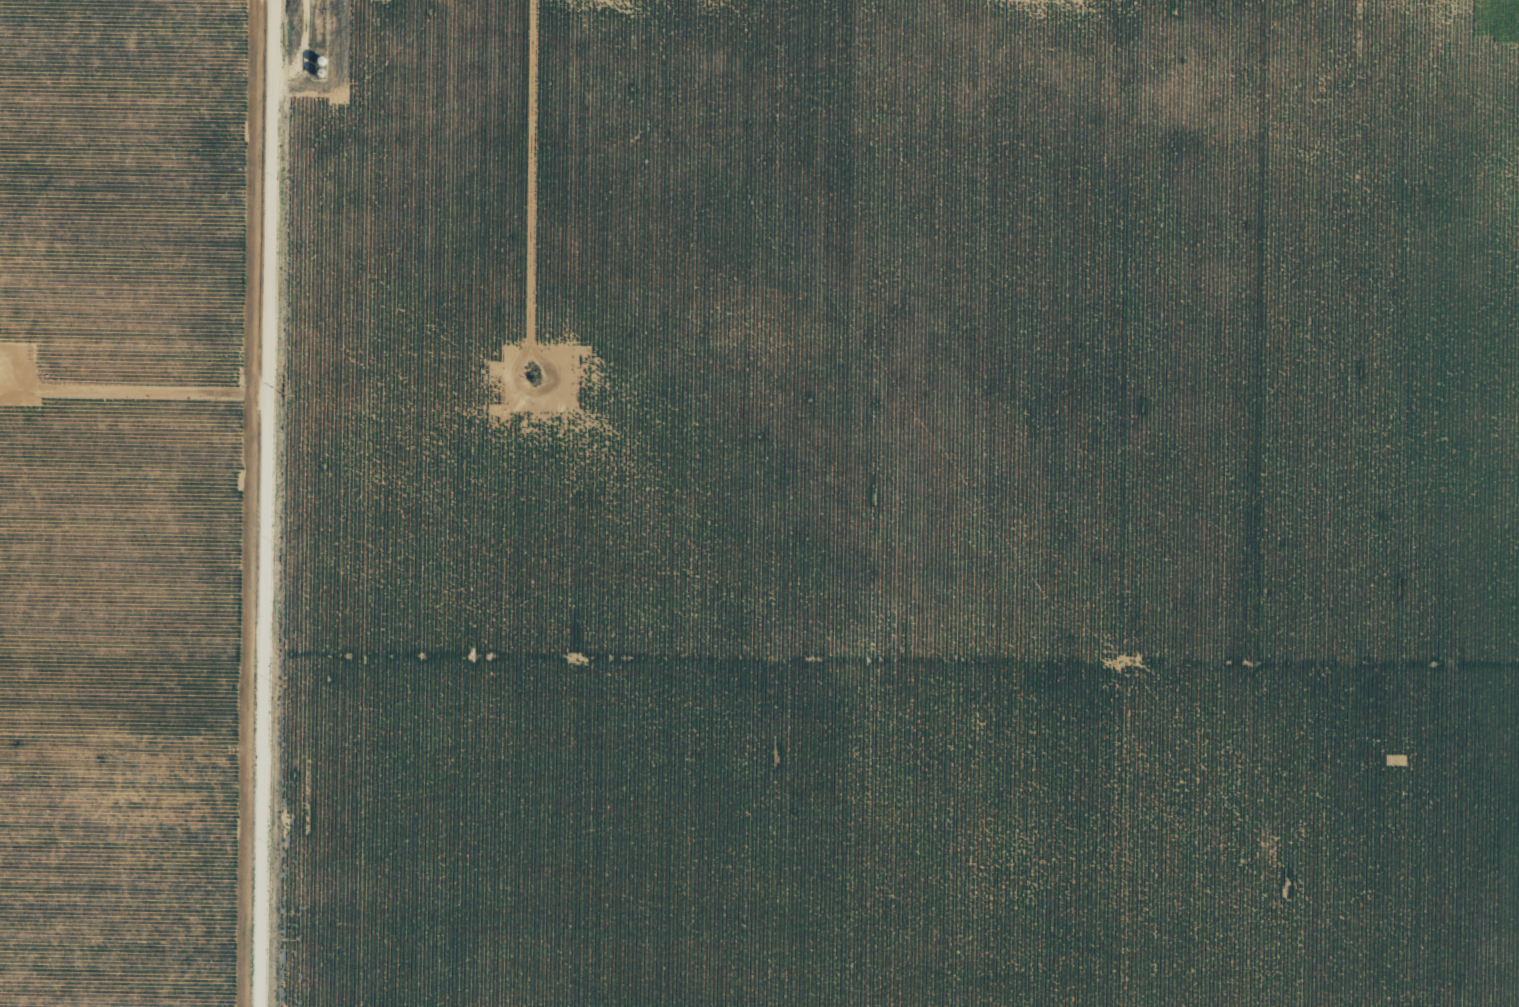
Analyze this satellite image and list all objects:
petroleum well: (538, 383)
road: (276, 503)

